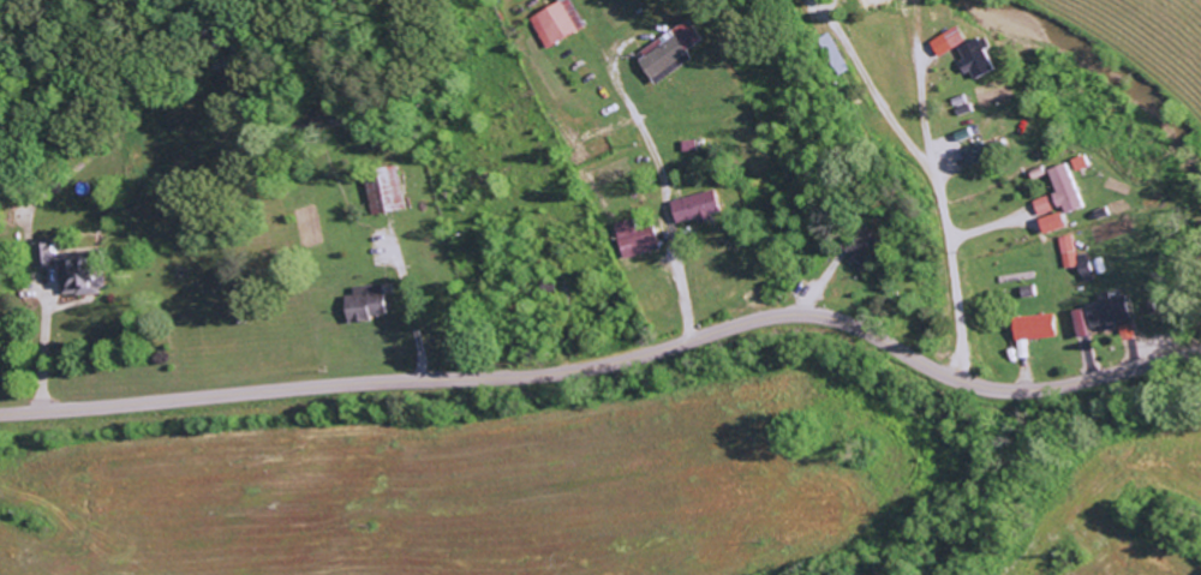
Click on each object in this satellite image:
building: (556, 23)
building: (946, 41)
building: (669, 54)
building: (975, 59)
building: (973, 155)
road: (557, 181)
building: (1063, 191)
building: (384, 193)
building: (1040, 206)
building: (697, 208)
building: (1051, 224)
building: (633, 234)
building: (865, 246)
building: (1071, 258)
building: (70, 271)
building: (366, 304)
building: (1099, 317)
road: (413, 321)
building: (1032, 328)
building: (1124, 333)
road: (613, 363)

